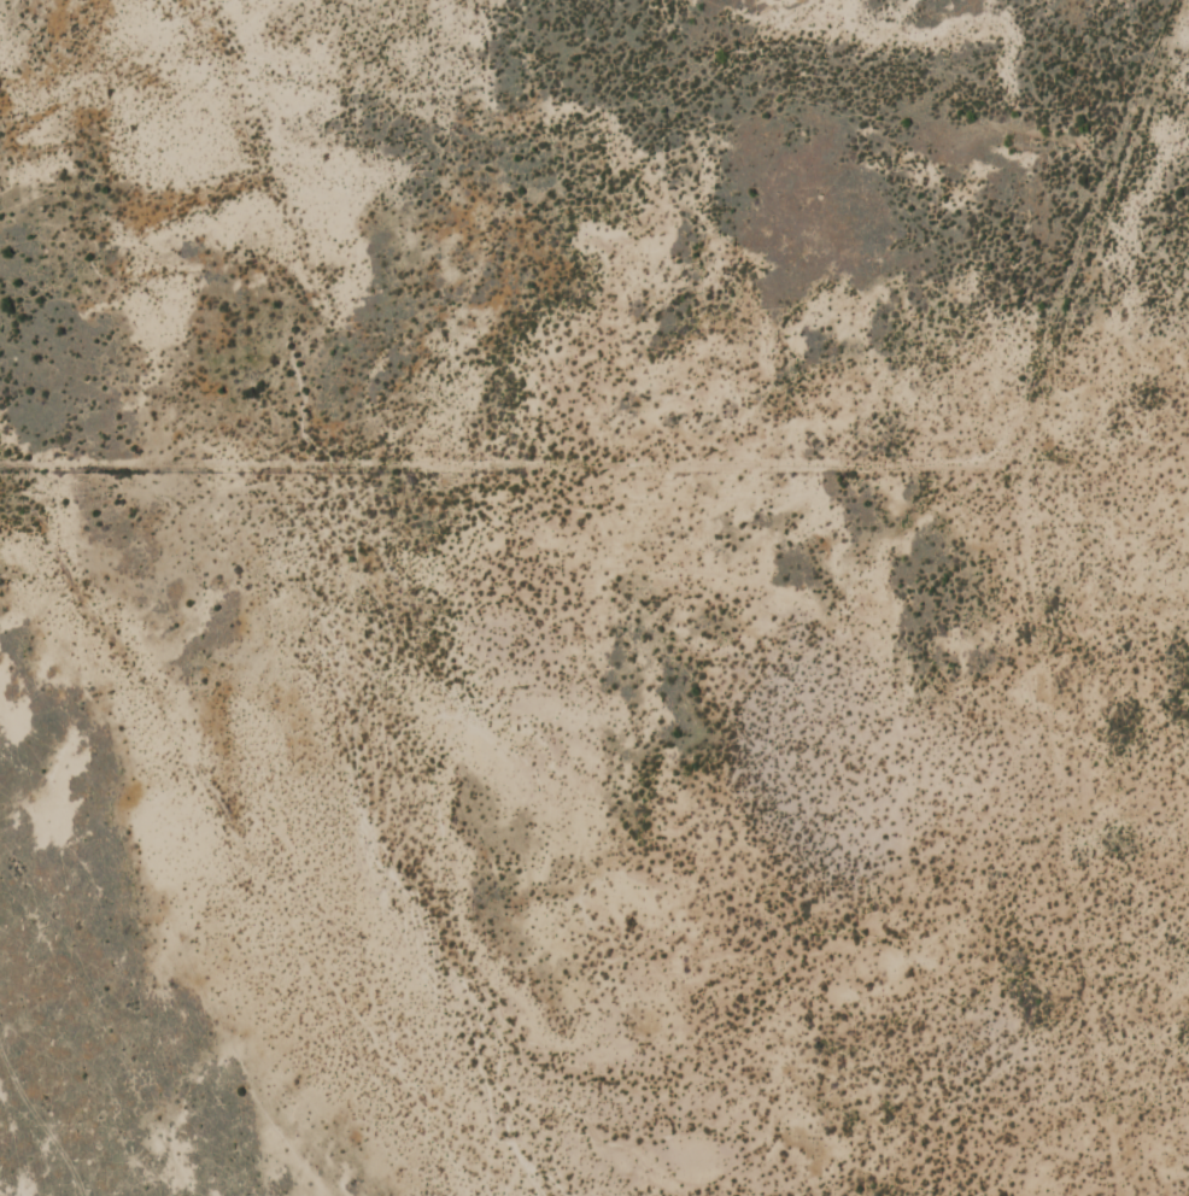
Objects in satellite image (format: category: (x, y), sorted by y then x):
road: (388, 326)

